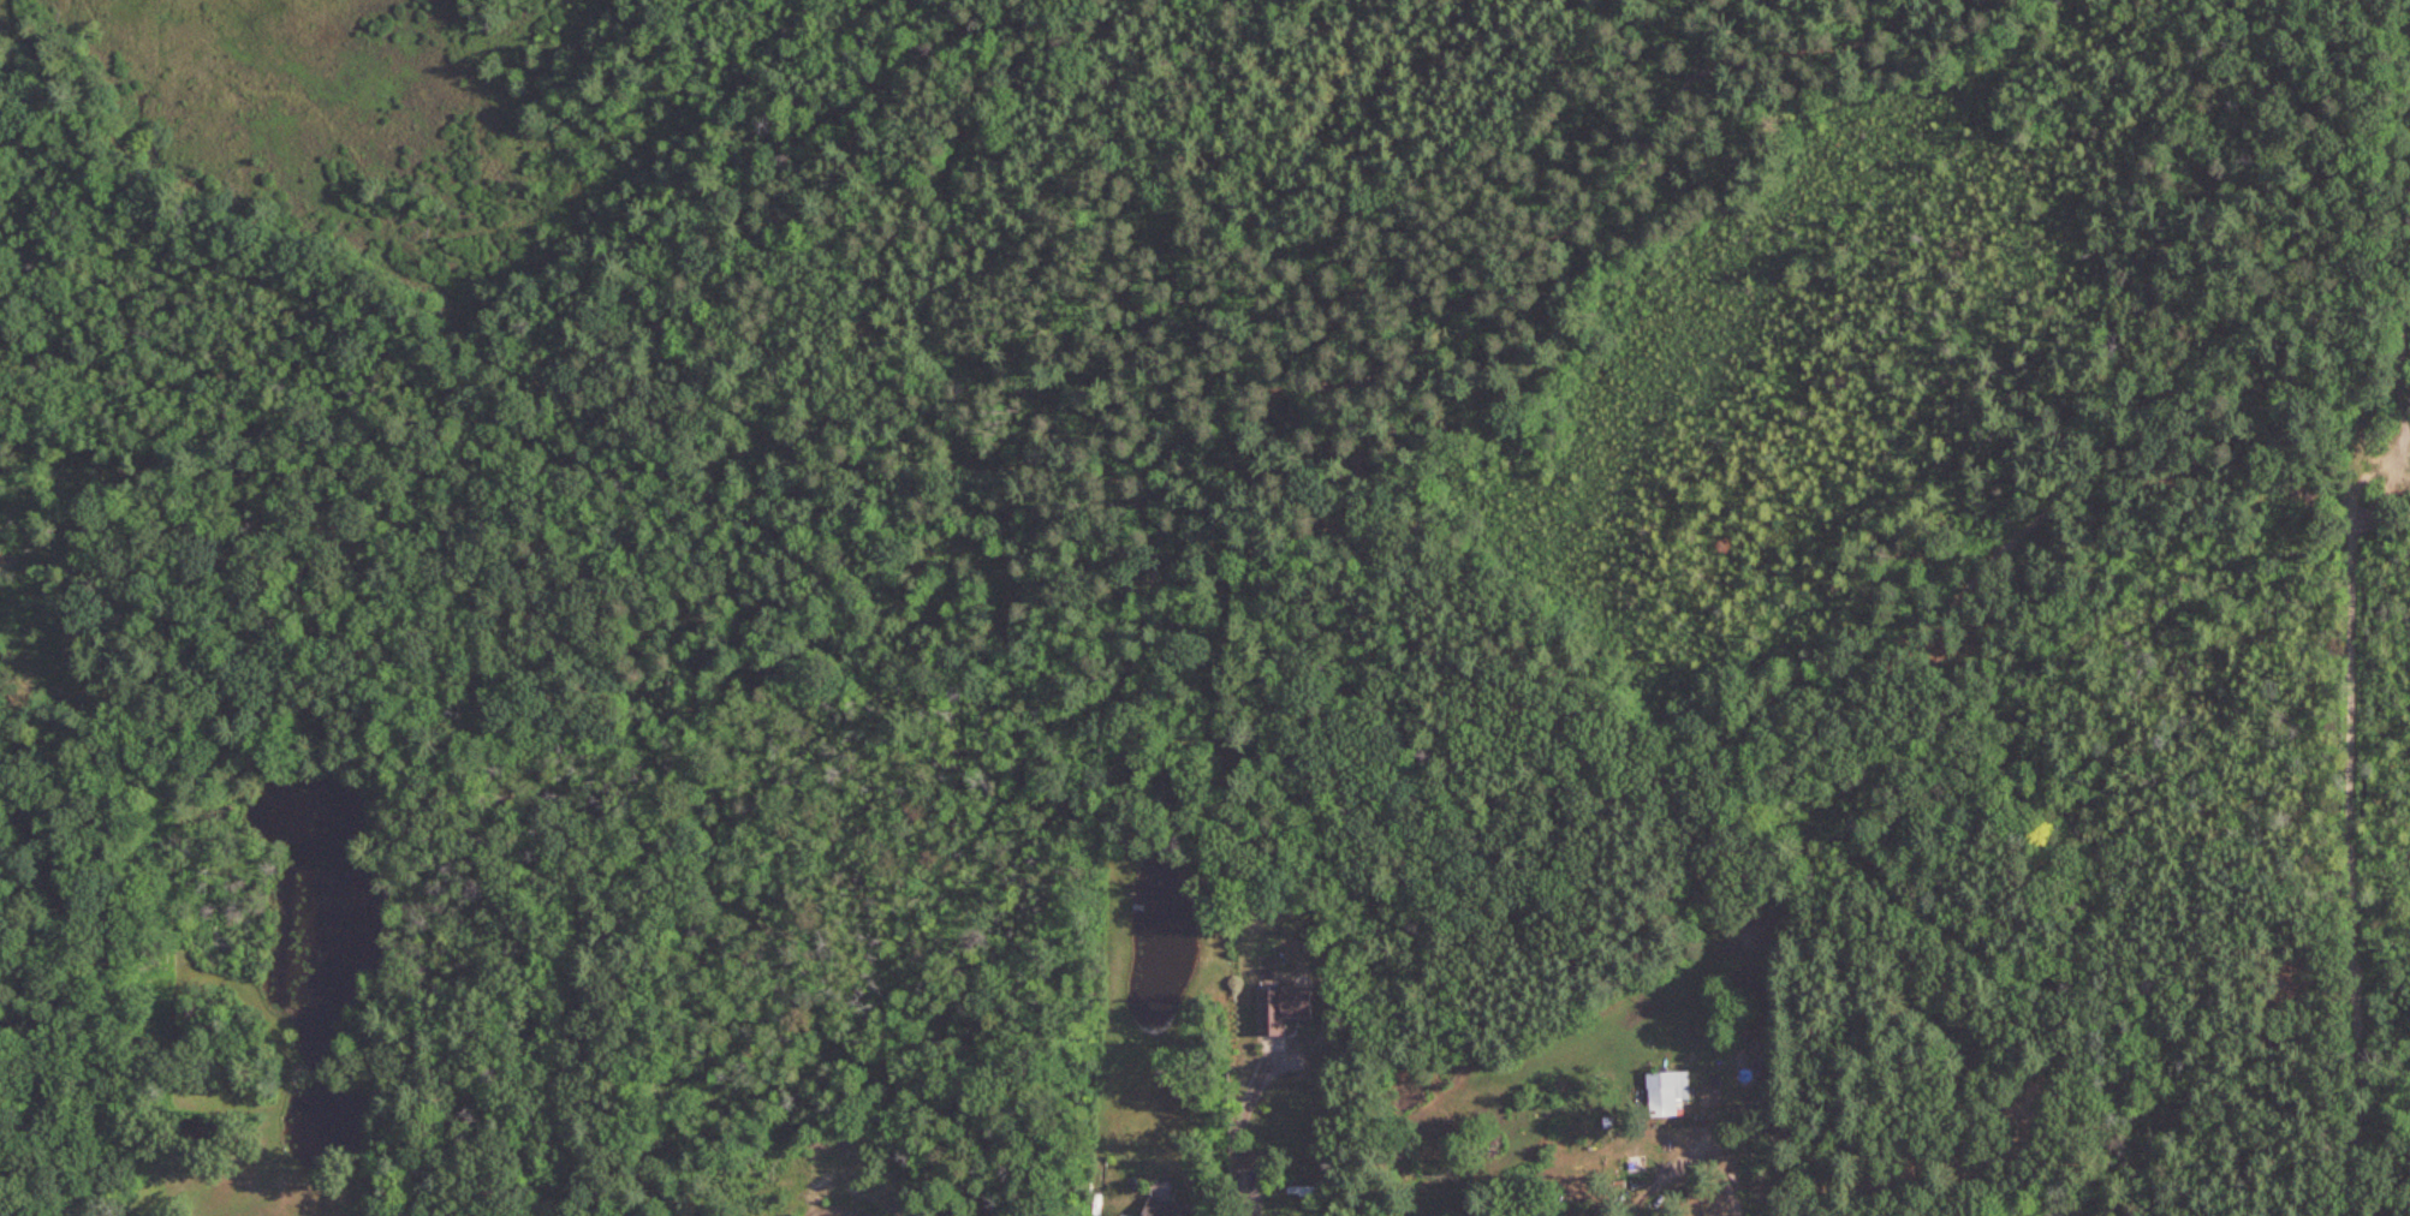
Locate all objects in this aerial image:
road: (2356, 607)
building: (1285, 1008)
building: (1670, 1092)
building: (1168, 1209)

